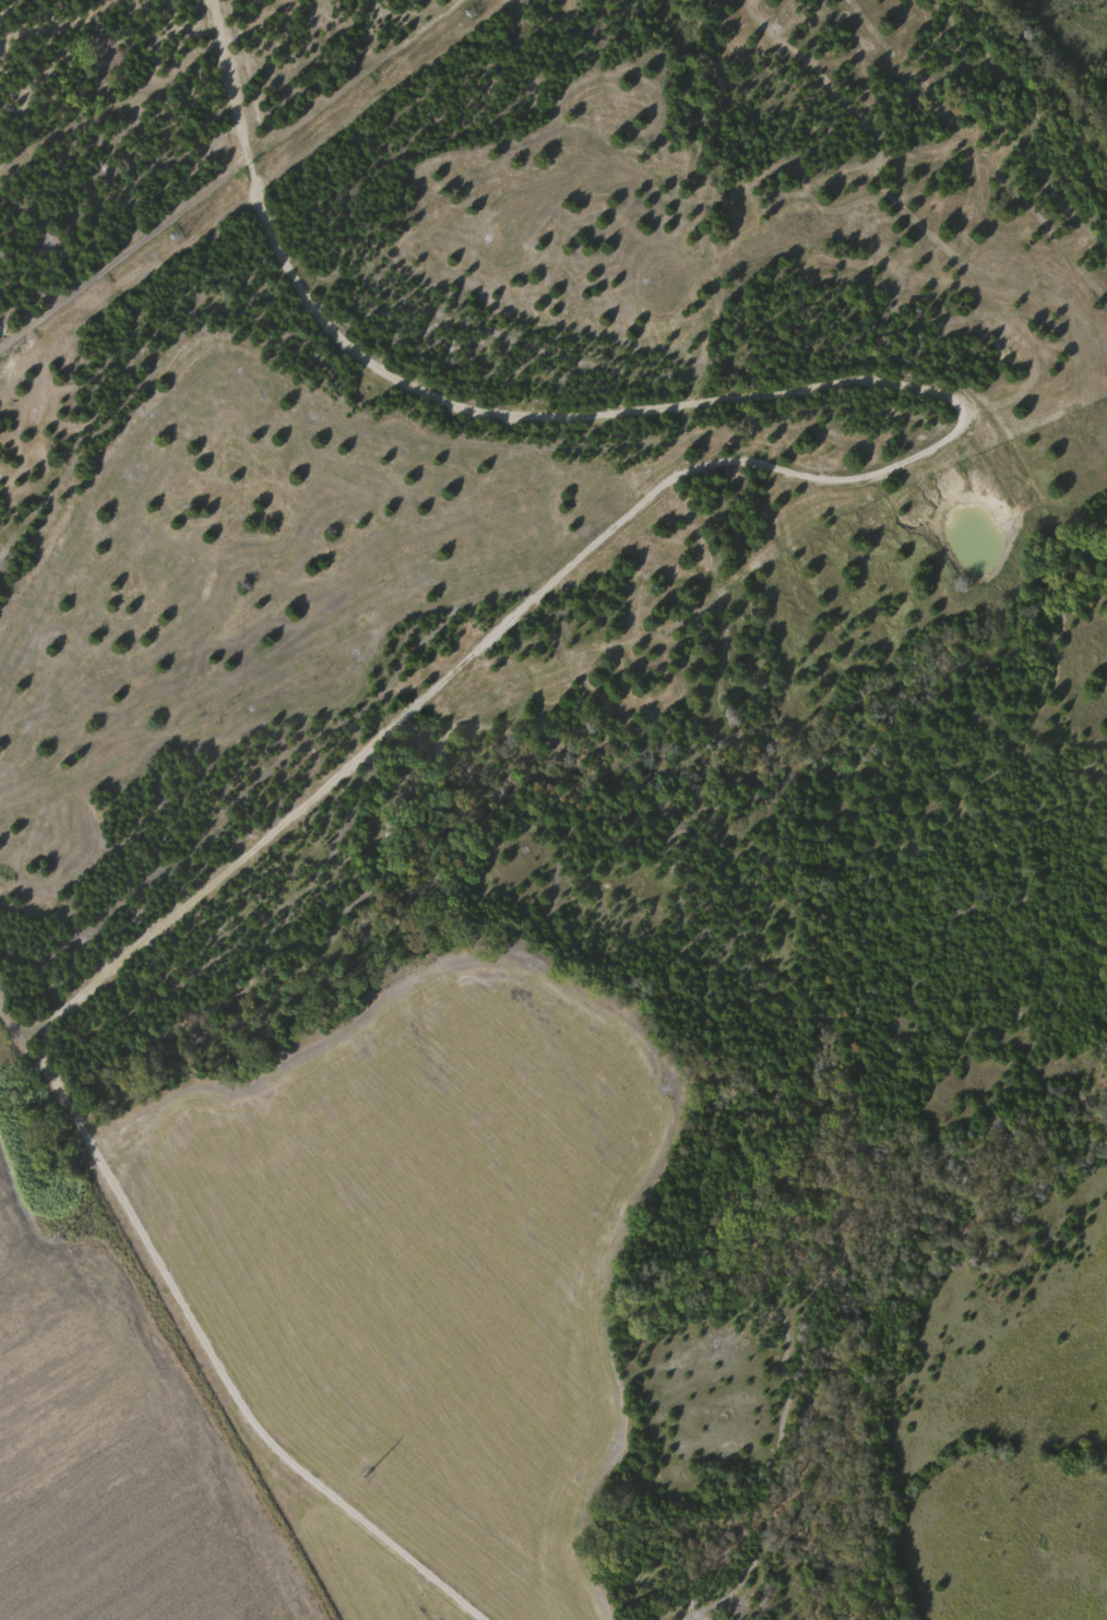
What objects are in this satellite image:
road: (582, 556)
road: (20, 1029)

